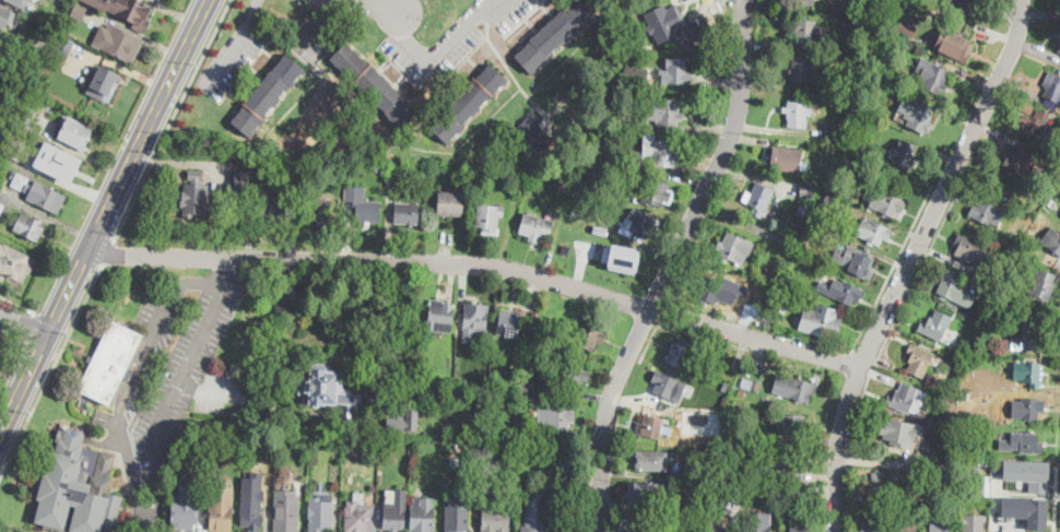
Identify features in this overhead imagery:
building: (805, 1)
building: (20, 2)
building: (851, 2)
building: (893, 3)
building: (962, 3)
road: (376, 5)
road: (400, 5)
building: (126, 10)
road: (254, 10)
road: (322, 10)
building: (79, 11)
building: (4, 16)
building: (668, 21)
building: (848, 23)
road: (404, 27)
building: (907, 27)
building: (806, 32)
road: (307, 33)
building: (554, 35)
parking lot: (313, 38)
building: (951, 38)
road: (449, 39)
building: (1, 42)
building: (118, 43)
building: (63, 48)
building: (1059, 50)
building: (1, 52)
road: (227, 54)
parking lot: (232, 57)
building: (885, 69)
building: (800, 70)
building: (676, 71)
building: (640, 76)
building: (937, 76)
building: (105, 80)
building: (372, 83)
building: (880, 83)
building: (26, 86)
building: (1053, 87)
building: (267, 95)
building: (468, 103)
building: (1025, 106)
building: (663, 111)
building: (797, 114)
building: (26, 117)
building: (617, 117)
building: (918, 117)
road: (170, 118)
building: (1035, 125)
building: (832, 130)
building: (73, 133)
building: (539, 134)
building: (612, 138)
building: (839, 144)
building: (660, 152)
building: (600, 153)
building: (904, 155)
building: (786, 157)
building: (825, 158)
building: (57, 161)
building: (243, 161)
building: (1022, 161)
road: (126, 166)
building: (376, 169)
building: (334, 170)
building: (291, 172)
building: (519, 177)
building: (562, 179)
building: (242, 182)
building: (389, 184)
building: (506, 185)
building: (806, 189)
building: (39, 192)
building: (658, 193)
building: (195, 196)
building: (757, 198)
building: (832, 201)
building: (244, 202)
building: (1053, 202)
building: (887, 203)
building: (450, 204)
building: (1, 205)
building: (279, 208)
building: (317, 209)
building: (594, 210)
building: (804, 210)
building: (367, 211)
building: (987, 212)
building: (408, 213)
building: (488, 218)
building: (640, 224)
building: (30, 227)
building: (535, 227)
building: (815, 227)
building: (599, 229)
building: (873, 232)
building: (786, 239)
building: (1052, 239)
building: (731, 249)
building: (968, 249)
road: (107, 250)
building: (620, 257)
road: (911, 261)
road: (481, 262)
building: (14, 263)
building: (858, 263)
road: (671, 264)
road: (221, 268)
road: (890, 270)
building: (789, 285)
building: (1044, 287)
building: (956, 289)
building: (305, 291)
building: (840, 291)
building: (709, 292)
road: (17, 303)
building: (759, 304)
building: (782, 306)
building: (440, 316)
building: (535, 318)
road: (52, 320)
road: (656, 320)
building: (824, 320)
road: (893, 320)
building: (473, 321)
road: (390, 322)
road: (23, 323)
building: (509, 323)
road: (31, 324)
building: (935, 326)
road: (681, 327)
road: (14, 332)
building: (589, 338)
building: (1030, 338)
road: (43, 346)
building: (681, 354)
road: (859, 355)
building: (919, 360)
building: (110, 362)
building: (737, 364)
road: (51, 369)
building: (1027, 373)
building: (573, 376)
parking lot: (168, 378)
road: (23, 383)
building: (461, 385)
building: (751, 385)
building: (508, 386)
building: (666, 386)
building: (527, 389)
building: (723, 389)
building: (798, 389)
building: (328, 390)
building: (741, 391)
building: (906, 399)
building: (1028, 407)
building: (555, 418)
building: (405, 421)
building: (791, 424)
building: (363, 426)
building: (652, 427)
building: (525, 433)
building: (899, 433)
building: (213, 436)
building: (749, 438)
building: (384, 440)
building: (1022, 442)
building: (200, 456)
building: (928, 457)
building: (794, 460)
building: (647, 461)
building: (732, 470)
building: (1027, 472)
building: (875, 475)
building: (735, 483)
building: (777, 485)
building: (985, 485)
building: (78, 487)
building: (798, 490)
building: (647, 497)
road: (1055, 498)
road: (138, 501)
building: (692, 508)
building: (221, 509)
building: (1026, 509)
building: (250, 511)
building: (286, 511)
building: (320, 512)
building: (534, 512)
building: (184, 513)
building: (458, 513)
building: (422, 515)
building: (356, 517)
building: (393, 517)
building: (495, 519)
building: (757, 522)
building: (971, 522)
road: (140, 524)
building: (872, 524)
building: (906, 527)
building: (716, 528)
building: (940, 528)
building: (801, 529)
building: (634, 531)
building: (1015, 531)

